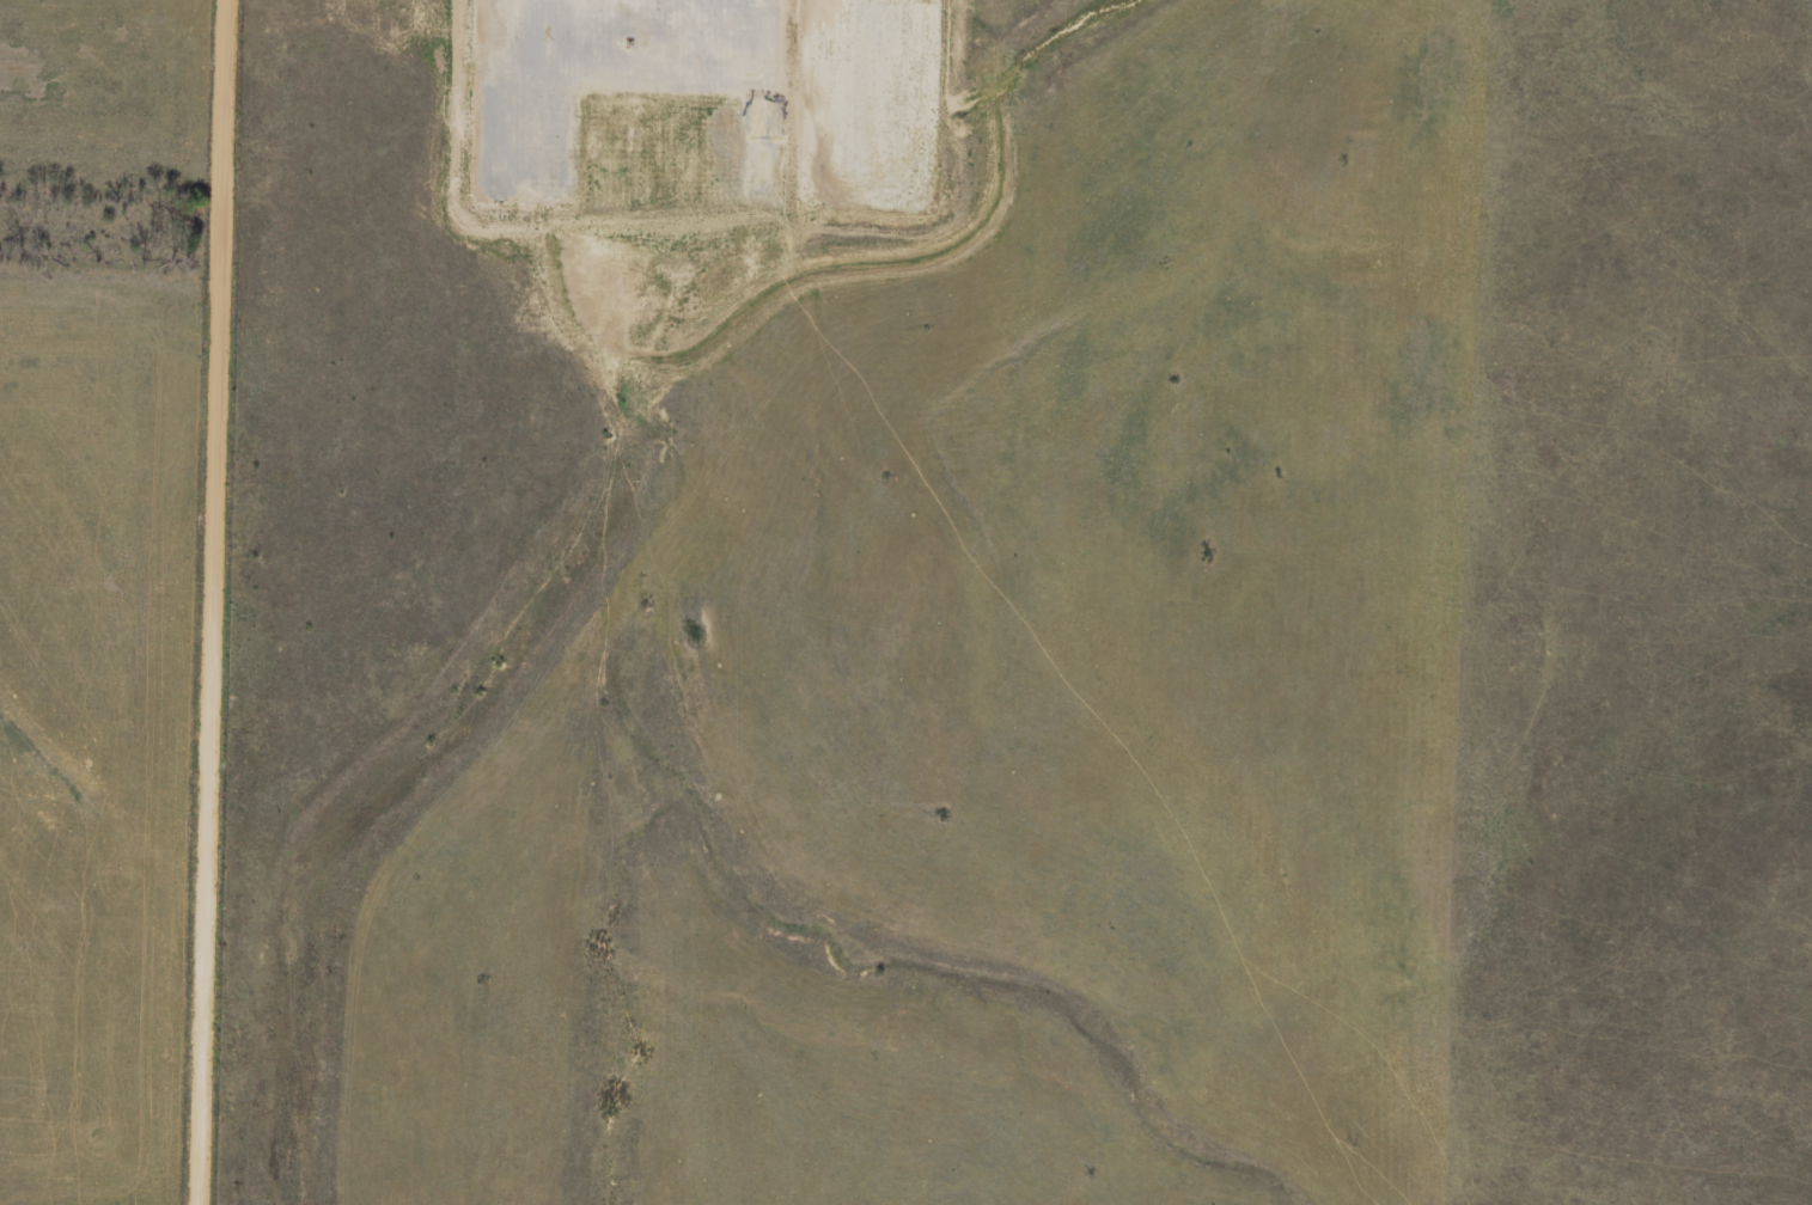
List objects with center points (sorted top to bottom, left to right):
road: (212, 601)

